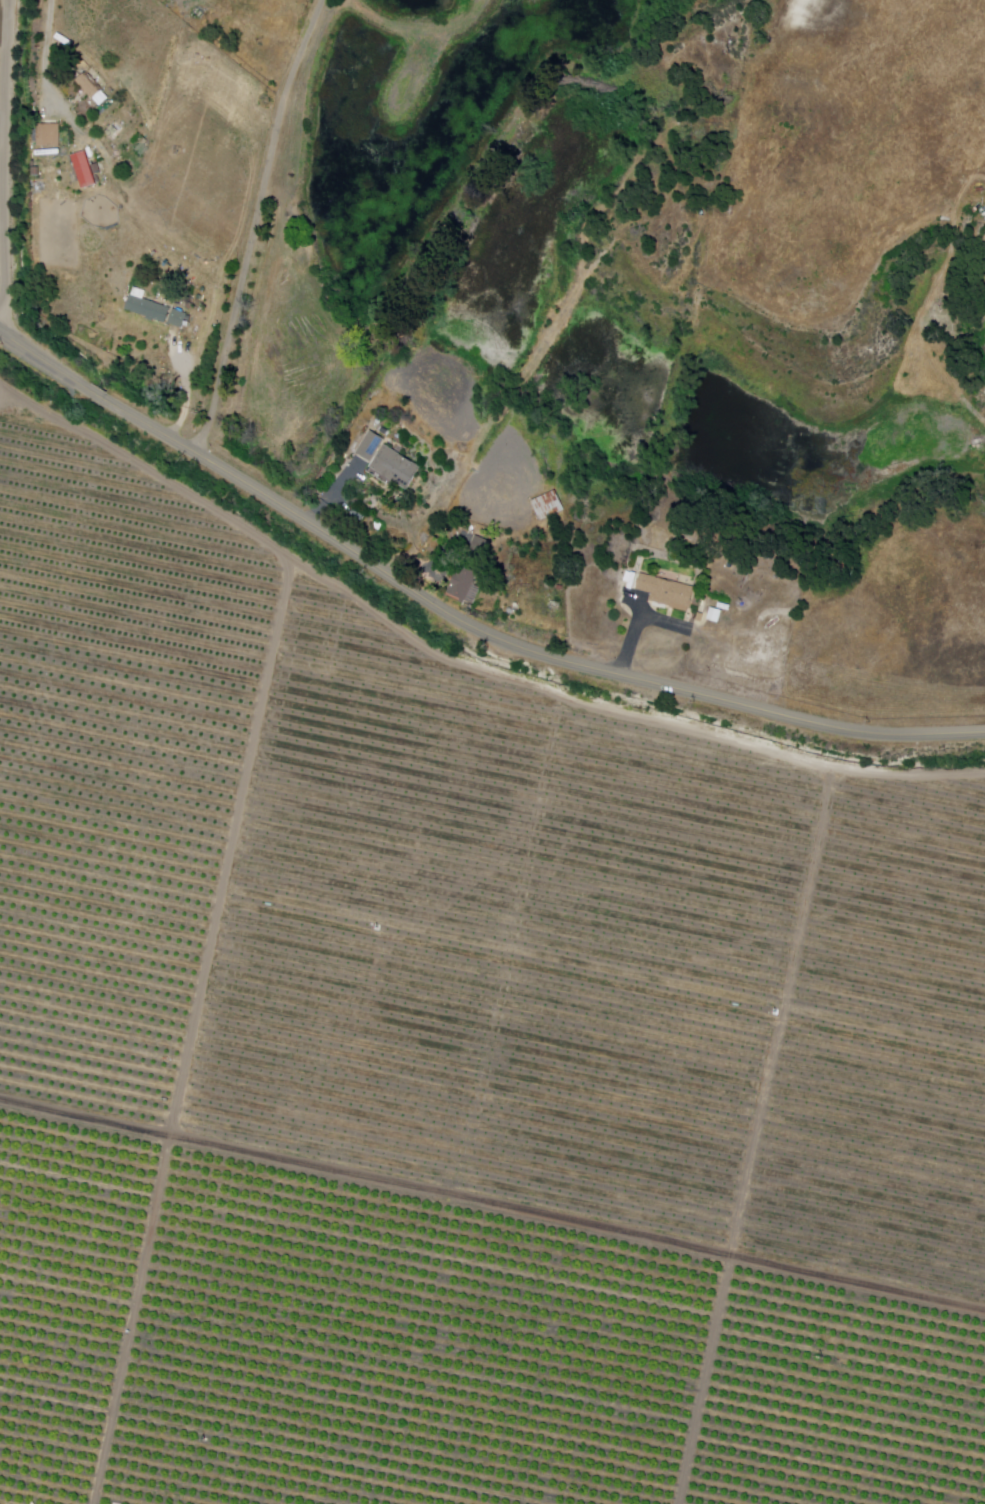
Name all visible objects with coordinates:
road: (45, 52)
building: (86, 86)
building: (46, 136)
road: (3, 167)
building: (83, 171)
road: (254, 223)
building: (984, 275)
building: (147, 310)
building: (176, 319)
building: (369, 448)
building: (395, 468)
road: (326, 502)
building: (547, 506)
building: (479, 547)
building: (461, 584)
building: (666, 592)
building: (714, 615)
building: (697, 617)
road: (458, 622)
crop: (397, 730)
road: (768, 746)
crop: (112, 762)
road: (384, 828)
road: (226, 890)
crop: (369, 908)
crop: (645, 979)
road: (350, 988)
crop: (886, 1050)
crop: (334, 1076)
road: (457, 1170)
road: (718, 1254)

